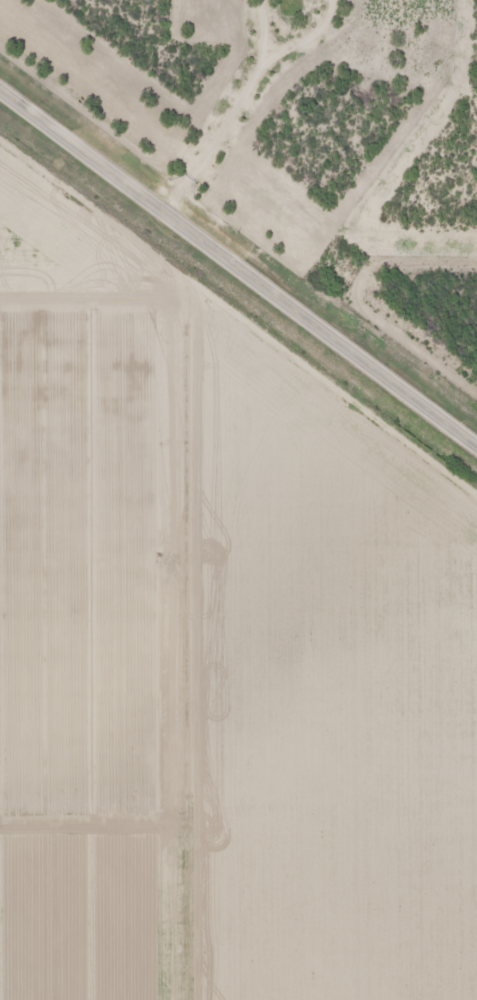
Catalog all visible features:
road: (238, 261)

